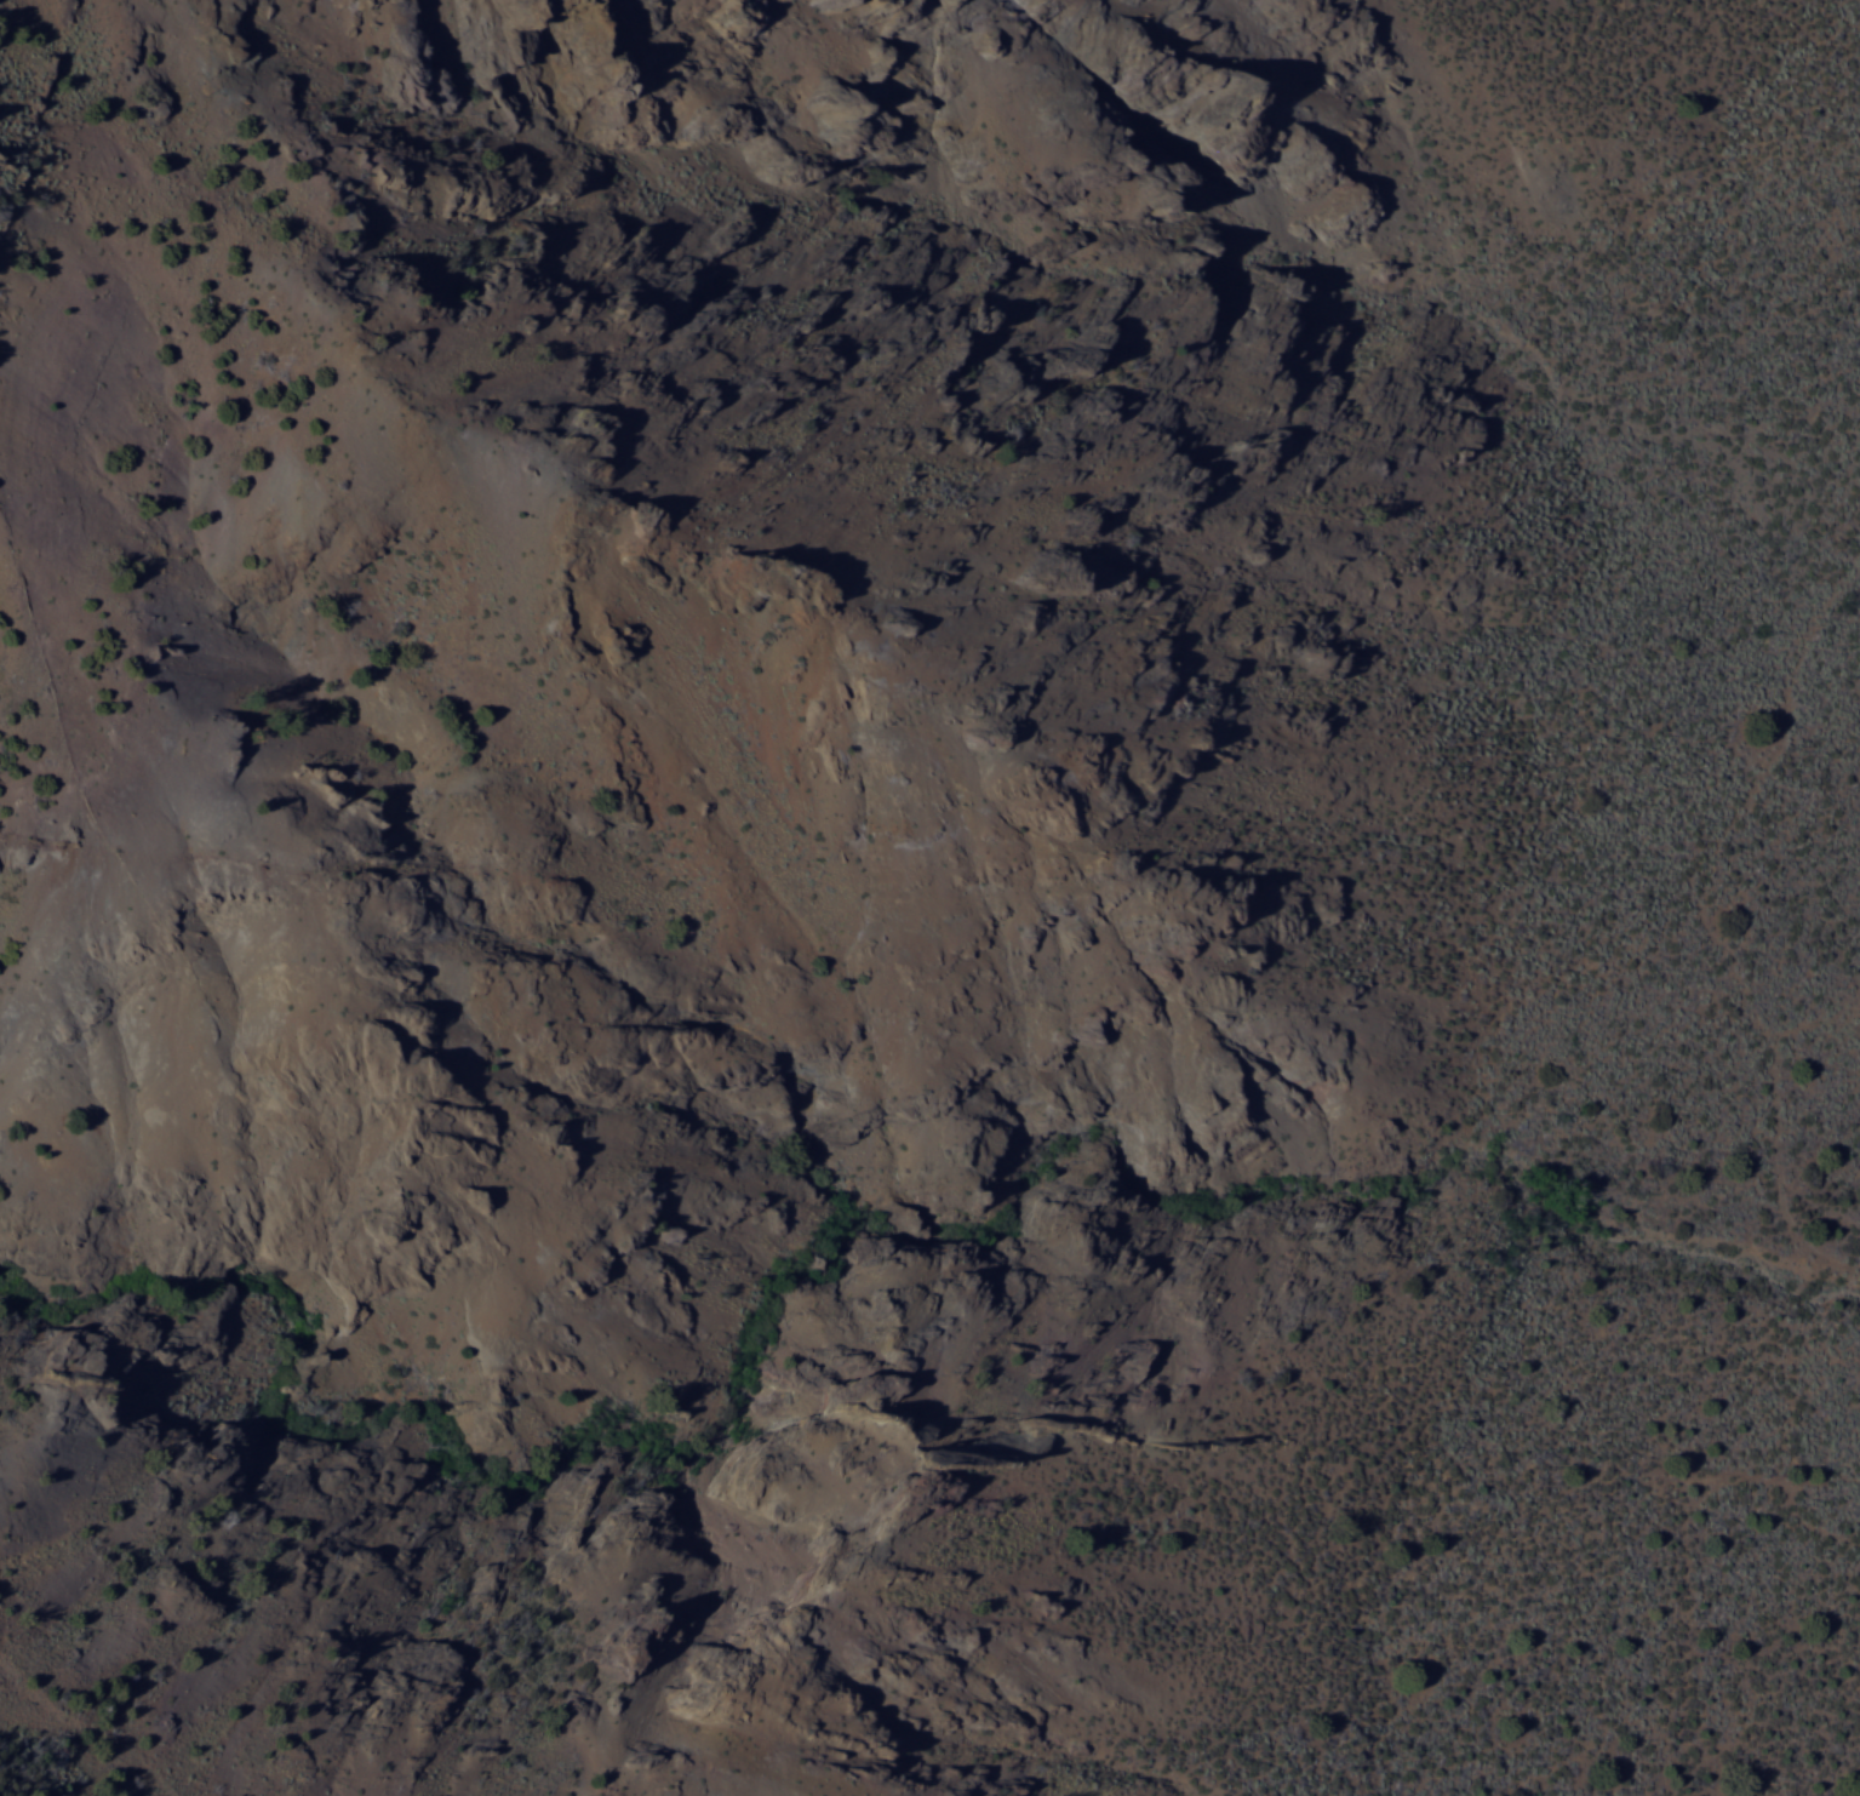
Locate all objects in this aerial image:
road: (1786, 1443)

